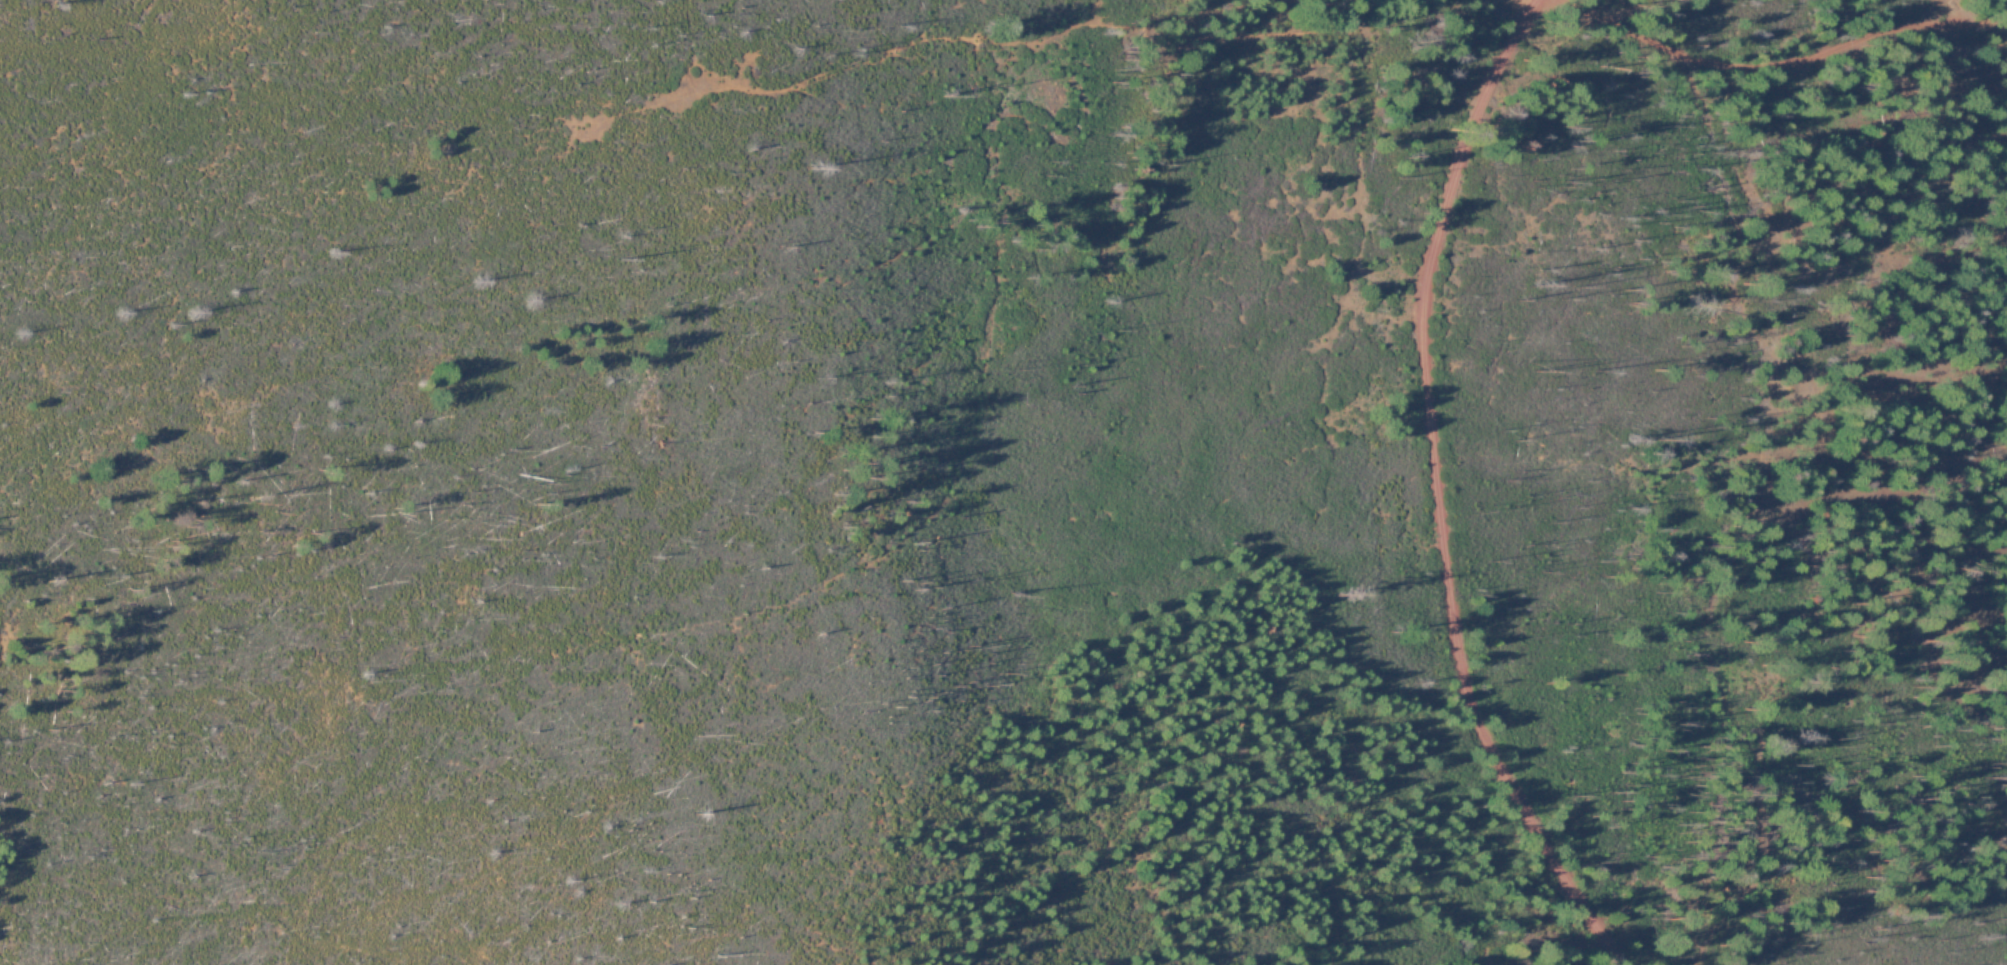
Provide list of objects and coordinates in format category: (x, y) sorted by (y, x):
road: (1437, 491)

